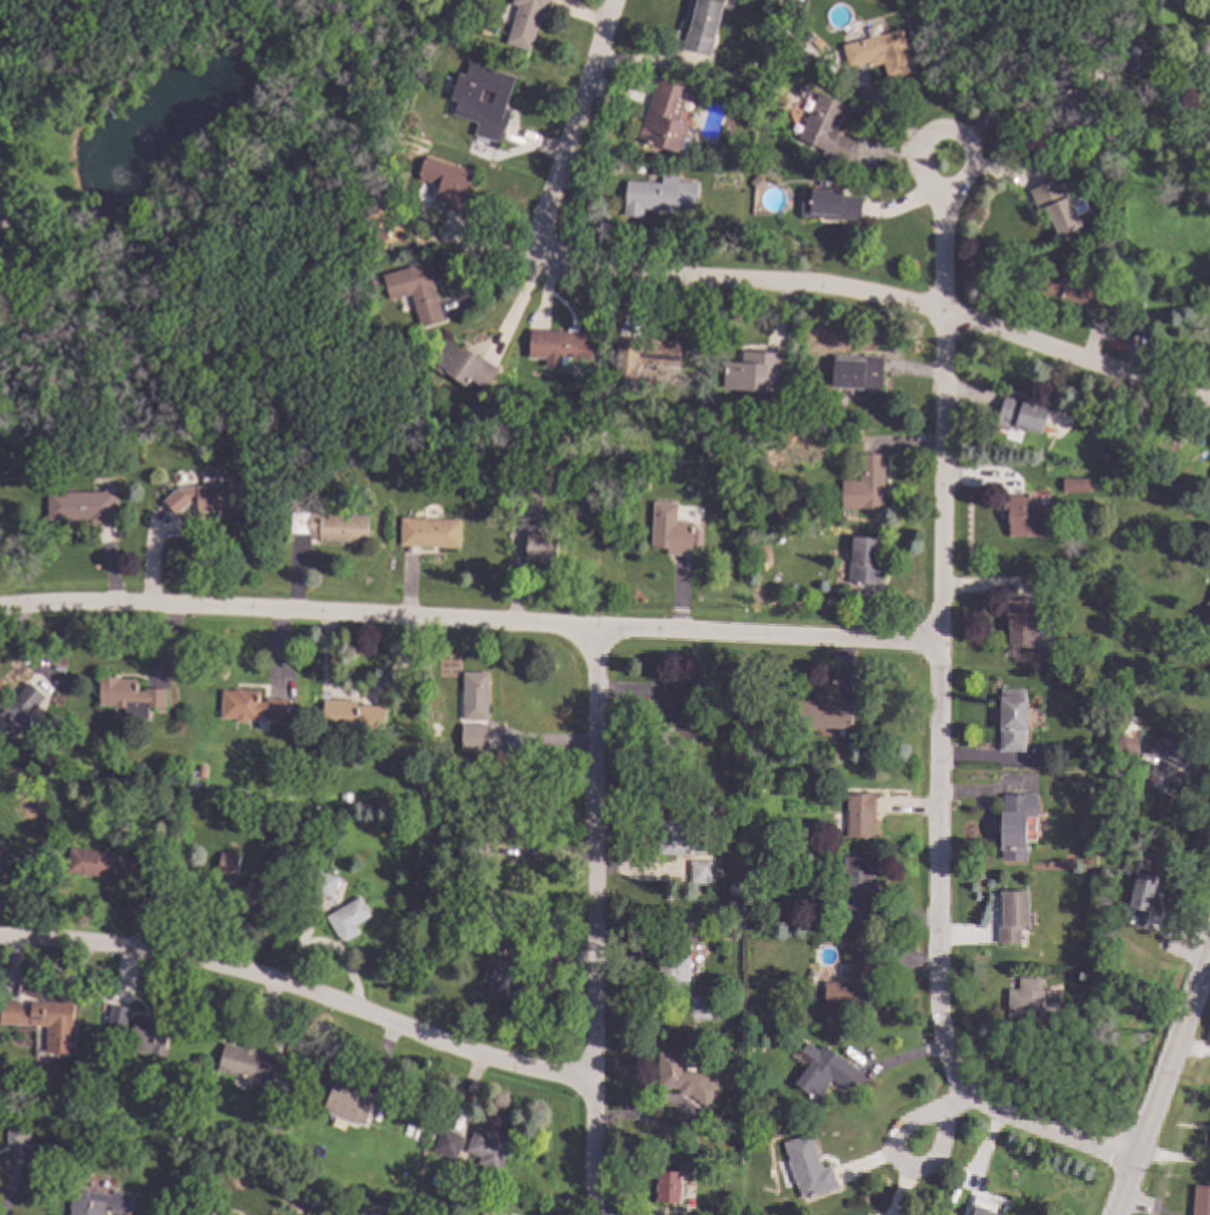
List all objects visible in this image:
building: (524, 21)
building: (700, 24)
building: (814, 41)
building: (1135, 50)
building: (879, 52)
building: (803, 90)
building: (1070, 98)
building: (470, 102)
building: (664, 117)
building: (824, 127)
road: (566, 137)
building: (708, 149)
building: (733, 152)
building: (756, 159)
building: (1050, 159)
road: (968, 165)
building: (756, 181)
building: (445, 182)
building: (658, 194)
building: (828, 204)
building: (1055, 204)
building: (2, 220)
road: (941, 250)
building: (370, 285)
building: (414, 289)
building: (1078, 289)
road: (891, 299)
building: (612, 318)
building: (559, 345)
building: (646, 352)
building: (461, 364)
building: (755, 370)
building: (854, 370)
building: (592, 397)
building: (837, 399)
building: (343, 410)
building: (814, 411)
building: (1021, 413)
building: (27, 430)
building: (254, 448)
building: (272, 448)
building: (1104, 460)
building: (1152, 471)
building: (641, 477)
building: (864, 483)
building: (1074, 487)
building: (206, 498)
building: (524, 503)
building: (81, 505)
building: (1023, 515)
building: (330, 524)
building: (669, 528)
building: (762, 530)
building: (428, 532)
building: (540, 546)
building: (865, 560)
building: (1209, 602)
road: (467, 619)
building: (1023, 621)
building: (1051, 646)
building: (447, 677)
building: (473, 694)
building: (129, 695)
building: (250, 705)
building: (19, 709)
building: (825, 714)
building: (351, 715)
building: (677, 717)
building: (1012, 720)
building: (433, 727)
building: (763, 737)
building: (472, 738)
building: (1125, 746)
building: (1174, 748)
building: (1046, 749)
building: (735, 753)
building: (200, 771)
building: (759, 772)
building: (177, 773)
building: (345, 796)
road: (936, 796)
building: (859, 814)
building: (511, 818)
building: (1015, 824)
building: (163, 833)
building: (677, 839)
building: (467, 848)
building: (0, 859)
building: (100, 863)
building: (227, 864)
building: (700, 871)
building: (324, 884)
building: (733, 888)
building: (857, 891)
building: (260, 893)
building: (1141, 898)
building: (1012, 915)
building: (346, 918)
road: (590, 920)
building: (496, 942)
building: (512, 942)
building: (670, 973)
building: (504, 977)
building: (852, 983)
road: (301, 986)
building: (1033, 1005)
building: (700, 1007)
building: (117, 1014)
building: (752, 1018)
building: (44, 1021)
building: (148, 1035)
building: (250, 1062)
building: (823, 1073)
building: (683, 1078)
road: (1161, 1081)
building: (0, 1095)
building: (393, 1102)
building: (346, 1105)
building: (700, 1125)
building: (16, 1134)
building: (448, 1142)
building: (488, 1148)
road: (893, 1157)
building: (807, 1168)
building: (668, 1186)
building: (301, 1194)
building: (1200, 1200)
building: (97, 1202)
building: (984, 1205)
building: (425, 1211)
building: (199, 1214)
building: (225, 1214)
building: (483, 1214)

